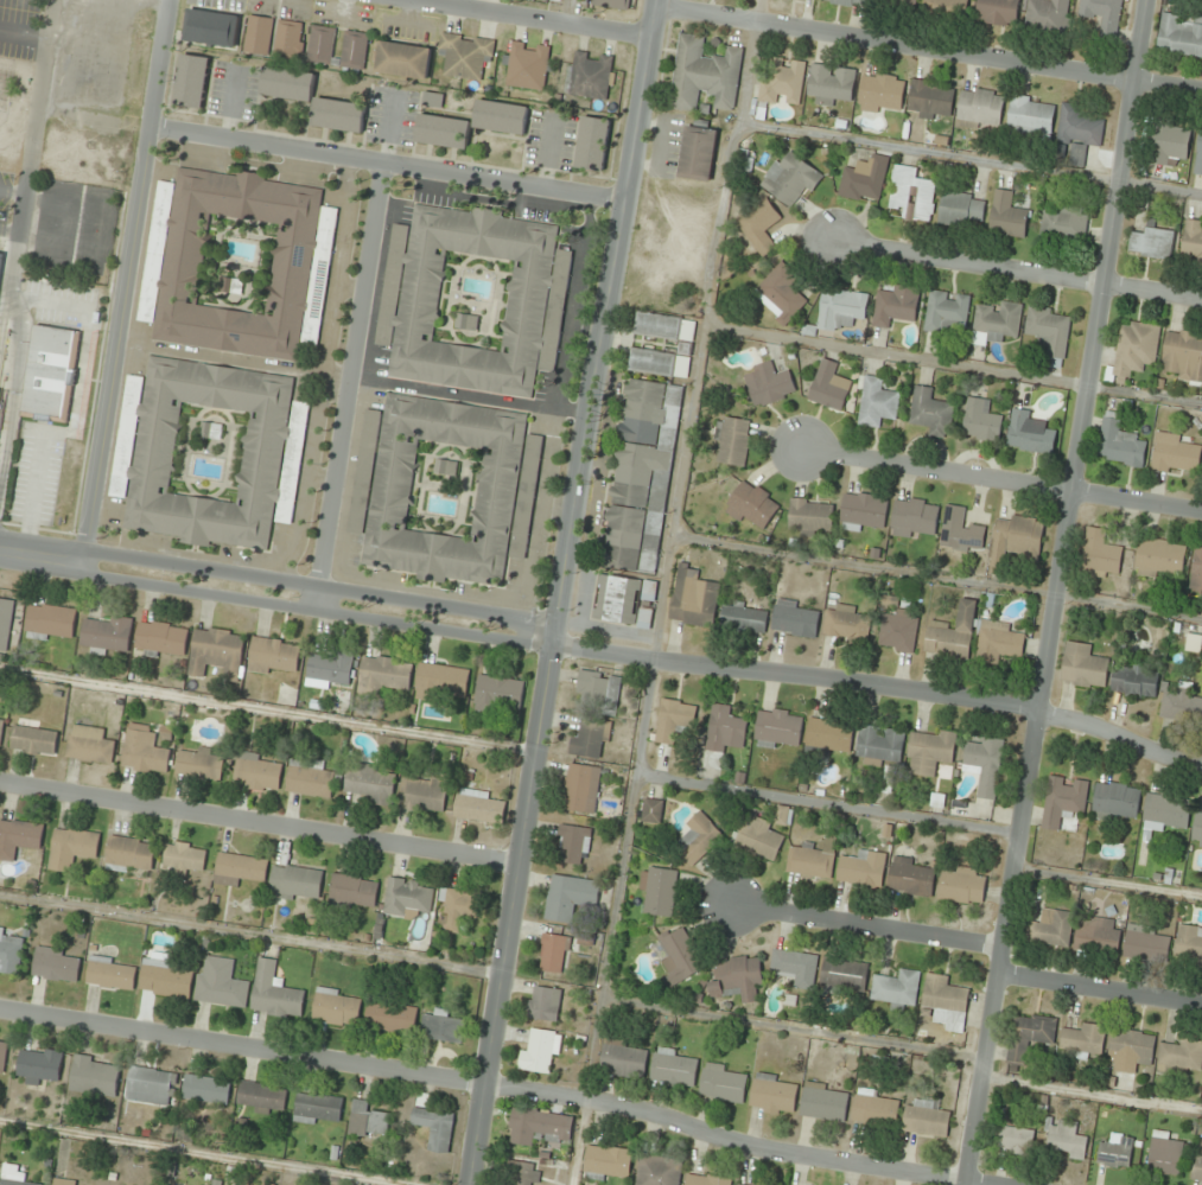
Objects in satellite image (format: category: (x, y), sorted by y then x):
building: (557, 0)
building: (847, 2)
building: (613, 4)
building: (891, 4)
building: (945, 9)
building: (997, 12)
building: (1045, 15)
building: (1101, 15)
road: (534, 18)
building: (211, 28)
building: (259, 34)
building: (1179, 34)
building: (290, 40)
building: (322, 44)
road: (928, 47)
building: (355, 50)
building: (466, 55)
building: (403, 59)
building: (527, 66)
building: (590, 75)
building: (702, 75)
building: (190, 82)
building: (780, 82)
building: (286, 84)
building: (828, 84)
parking lot: (231, 90)
building: (878, 94)
building: (435, 97)
building: (928, 100)
road: (229, 104)
building: (978, 109)
parking lot: (389, 114)
building: (337, 116)
building: (1028, 116)
building: (498, 119)
building: (1076, 126)
road: (388, 127)
building: (441, 133)
parking lot: (547, 139)
building: (591, 145)
building: (1168, 145)
road: (546, 153)
building: (697, 154)
building: (1197, 154)
road: (971, 158)
road: (389, 163)
building: (789, 178)
building: (863, 179)
road: (12, 191)
building: (909, 195)
building: (956, 209)
building: (1004, 216)
building: (1061, 224)
building: (757, 225)
road: (18, 227)
road: (8, 230)
building: (1191, 241)
building: (1150, 243)
building: (0, 244)
building: (0, 259)
building: (237, 263)
road: (1016, 268)
road: (127, 282)
building: (778, 293)
building: (473, 300)
parking lot: (62, 304)
building: (893, 305)
building: (839, 310)
building: (943, 312)
building: (993, 323)
building: (655, 326)
road: (702, 327)
building: (1045, 330)
building: (1132, 350)
building: (1182, 357)
building: (649, 362)
building: (1052, 363)
road: (952, 364)
building: (49, 372)
road: (348, 381)
building: (767, 383)
building: (827, 386)
building: (875, 402)
building: (674, 406)
building: (929, 412)
road: (74, 413)
building: (979, 419)
building: (1028, 433)
building: (732, 440)
building: (1118, 442)
building: (209, 452)
building: (1172, 453)
parking lot: (36, 473)
building: (632, 473)
road: (999, 479)
building: (444, 489)
building: (750, 504)
building: (860, 511)
building: (808, 516)
building: (912, 516)
building: (958, 530)
building: (1013, 540)
building: (1096, 554)
building: (1158, 558)
building: (1196, 571)
road: (936, 575)
road: (560, 592)
road: (1054, 592)
road: (276, 593)
building: (692, 598)
building: (616, 599)
building: (740, 617)
building: (793, 618)
building: (49, 622)
building: (6, 623)
building: (845, 623)
building: (897, 630)
building: (950, 633)
building: (108, 636)
building: (161, 639)
building: (996, 642)
building: (217, 652)
building: (274, 657)
building: (1081, 667)
building: (331, 670)
building: (384, 675)
building: (1132, 680)
building: (441, 682)
road: (880, 689)
building: (596, 693)
building: (500, 694)
building: (1179, 706)
road: (267, 711)
building: (672, 719)
building: (1, 728)
building: (723, 728)
building: (776, 728)
building: (589, 735)
building: (826, 735)
building: (34, 741)
building: (878, 744)
building: (89, 745)
building: (928, 751)
building: (144, 753)
building: (197, 764)
building: (982, 764)
building: (257, 772)
building: (310, 778)
building: (370, 784)
building: (579, 788)
building: (424, 794)
building: (1114, 799)
building: (1061, 801)
road: (825, 804)
building: (479, 808)
building: (653, 810)
building: (1164, 810)
road: (261, 823)
building: (1196, 828)
building: (19, 839)
building: (697, 839)
building: (758, 839)
building: (572, 843)
building: (72, 848)
building: (131, 855)
building: (183, 858)
building: (812, 858)
building: (240, 869)
building: (860, 869)
building: (909, 877)
road: (1107, 883)
building: (295, 884)
building: (961, 885)
building: (659, 890)
building: (354, 892)
building: (567, 896)
building: (408, 897)
building: (459, 907)
road: (611, 922)
road: (863, 925)
building: (1049, 928)
building: (1096, 932)
road: (253, 936)
building: (1145, 942)
building: (1188, 945)
building: (11, 953)
building: (551, 953)
building: (678, 953)
building: (57, 964)
building: (794, 967)
building: (112, 974)
building: (842, 975)
building: (165, 977)
building: (737, 977)
building: (221, 983)
building: (896, 988)
road: (1099, 989)
building: (275, 992)
building: (942, 1002)
building: (542, 1004)
building: (337, 1008)
building: (390, 1018)
building: (443, 1027)
road: (791, 1030)
building: (1026, 1034)
building: (1081, 1038)
building: (1127, 1049)
building: (538, 1050)
building: (1177, 1055)
building: (2, 1057)
building: (622, 1058)
building: (40, 1066)
building: (673, 1066)
building: (95, 1077)
building: (721, 1082)
road: (500, 1083)
building: (150, 1087)
building: (206, 1089)
road: (1090, 1092)
building: (772, 1094)
building: (261, 1097)
building: (822, 1101)
building: (875, 1107)
building: (318, 1109)
building: (923, 1116)
building: (368, 1121)
building: (536, 1126)
building: (435, 1127)
building: (1063, 1139)
building: (1015, 1140)
building: (1114, 1151)
building: (1164, 1152)
road: (199, 1154)
building: (606, 1160)
building: (1196, 1164)
building: (656, 1171)
building: (517, 1173)
building: (13, 1176)
building: (705, 1179)
building: (64, 1181)
building: (742, 1184)

